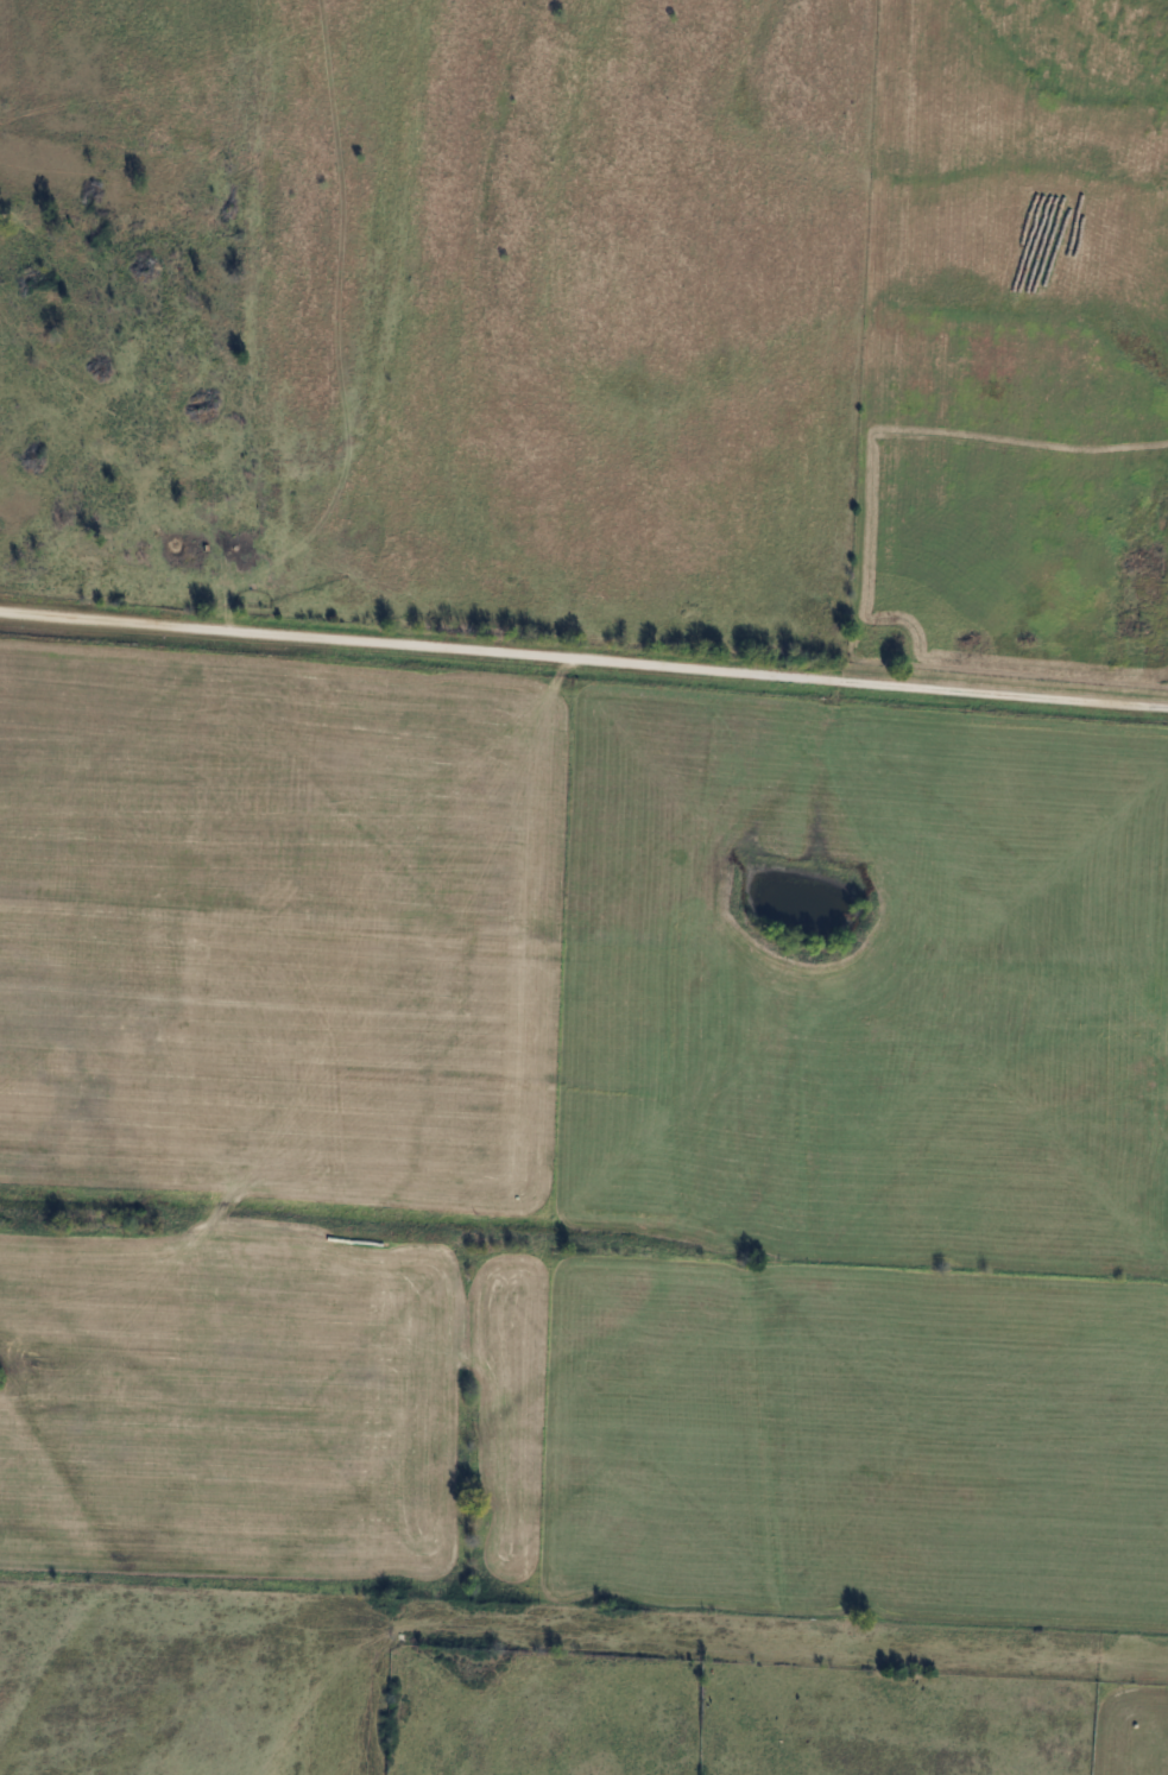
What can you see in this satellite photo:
road: (583, 658)

